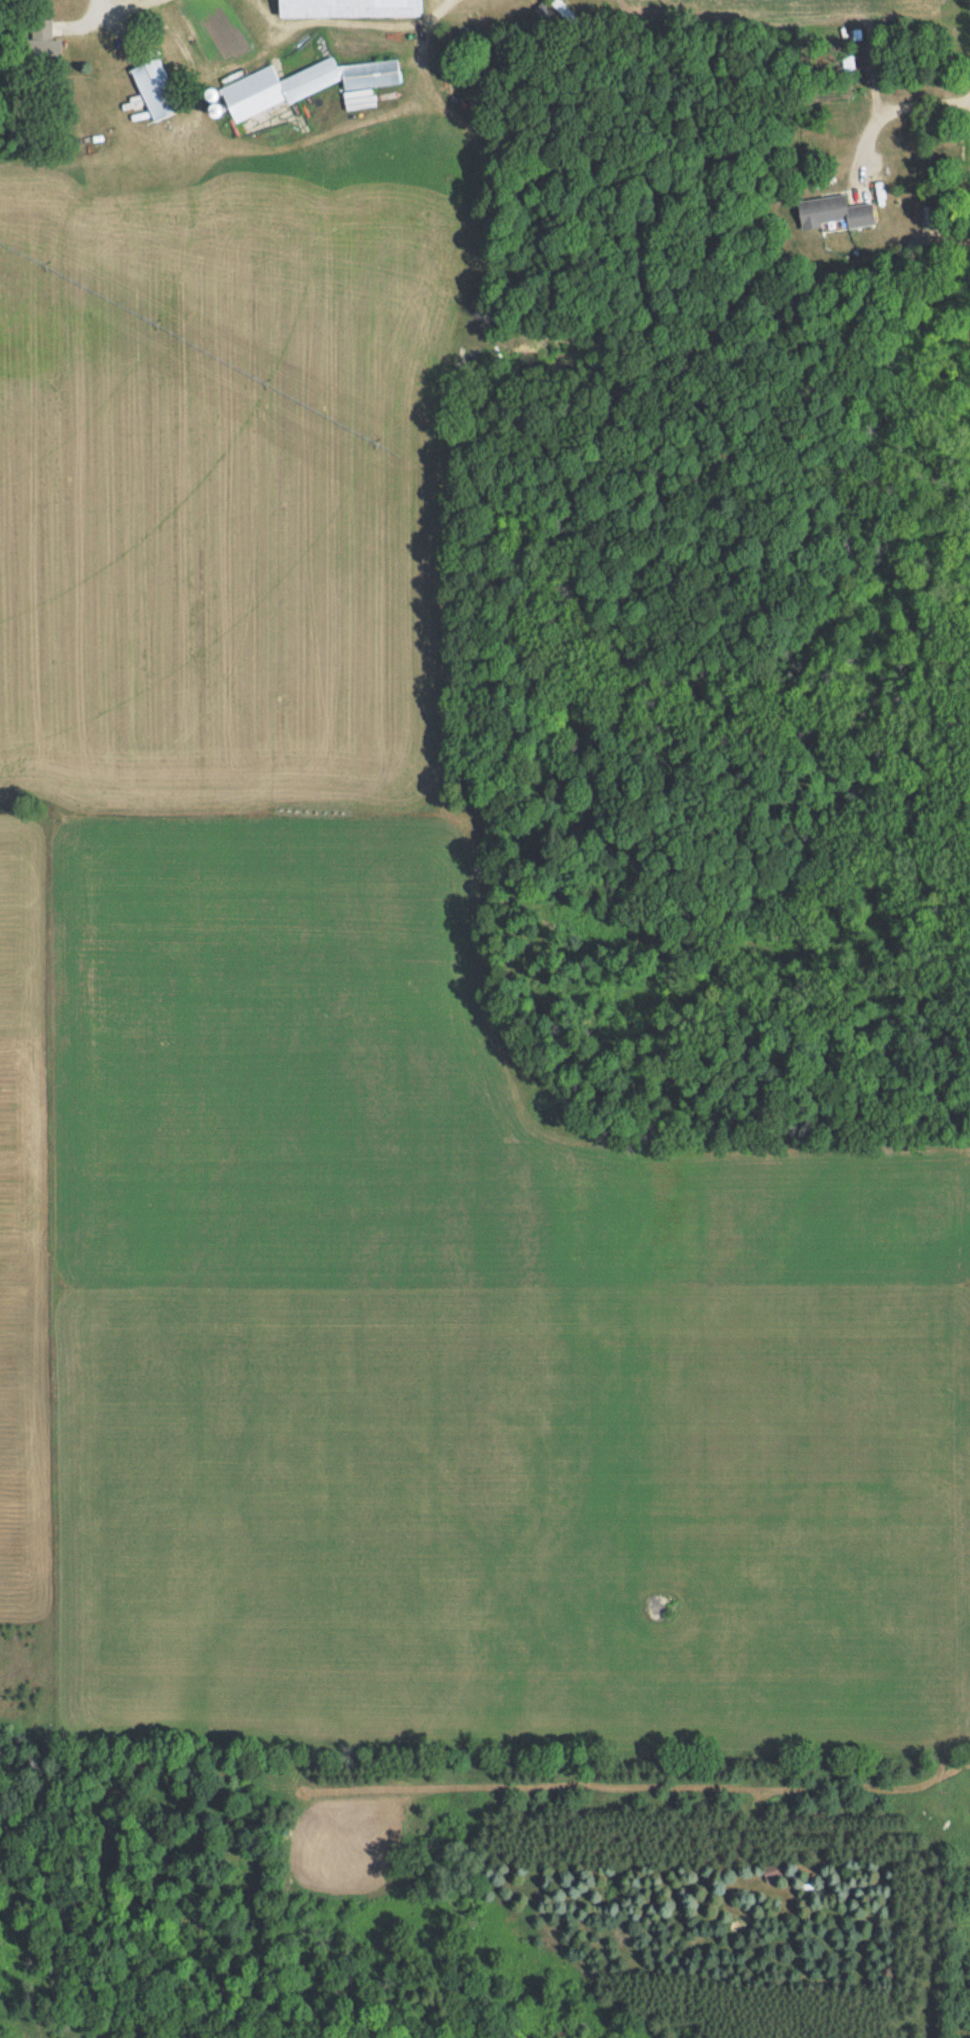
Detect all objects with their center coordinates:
road: (107, 7)
building: (560, 7)
building: (348, 8)
building: (43, 42)
building: (302, 84)
building: (154, 89)
road: (899, 104)
building: (834, 212)
building: (771, 1871)

